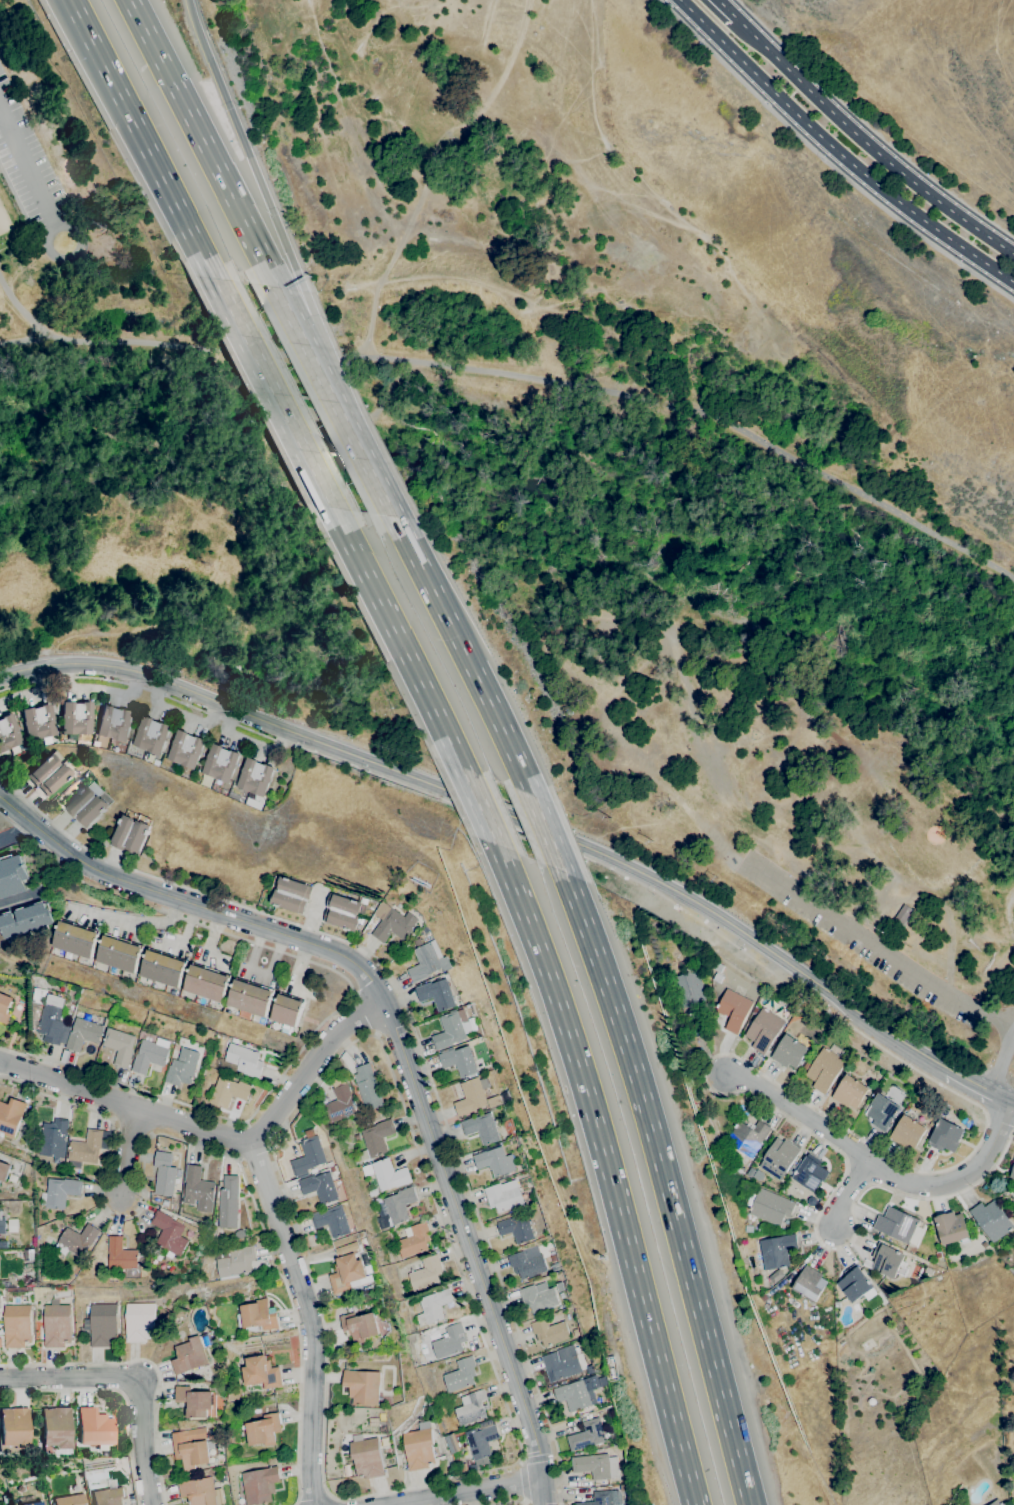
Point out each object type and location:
road: (729, 11)
road: (140, 139)
road: (204, 143)
road: (243, 145)
road: (871, 146)
road: (838, 152)
parking lot: (36, 161)
road: (826, 161)
road: (12, 164)
road: (28, 166)
road: (70, 258)
road: (16, 298)
road: (295, 322)
road: (311, 322)
road: (529, 376)
road: (271, 392)
road: (353, 436)
park: (140, 442)
river: (545, 496)
road: (395, 637)
road: (465, 654)
building: (77, 719)
building: (114, 723)
building: (39, 724)
building: (9, 735)
building: (150, 735)
building: (124, 746)
building: (185, 749)
building: (219, 763)
building: (48, 775)
building: (254, 776)
road: (477, 805)
building: (86, 806)
road: (493, 810)
road: (547, 833)
road: (17, 835)
building: (130, 835)
building: (12, 875)
building: (291, 895)
building: (364, 900)
road: (21, 901)
building: (342, 911)
building: (903, 913)
building: (25, 920)
building: (393, 923)
building: (75, 938)
road: (876, 946)
building: (118, 953)
building: (426, 961)
building: (685, 965)
building: (718, 967)
building: (162, 968)
building: (717, 977)
building: (206, 982)
building: (688, 991)
building: (437, 994)
building: (250, 997)
road: (345, 1002)
building: (5, 1007)
building: (732, 1008)
building: (754, 1010)
building: (287, 1012)
road: (363, 1015)
building: (51, 1017)
road: (411, 1028)
building: (451, 1029)
building: (764, 1030)
building: (83, 1034)
road: (397, 1042)
building: (120, 1046)
building: (789, 1052)
building: (151, 1055)
building: (244, 1059)
road: (999, 1059)
building: (460, 1061)
road: (904, 1061)
building: (183, 1067)
building: (824, 1070)
road: (976, 1085)
building: (368, 1087)
building: (228, 1092)
building: (849, 1092)
building: (474, 1096)
building: (501, 1099)
road: (1012, 1100)
building: (339, 1104)
building: (883, 1112)
building: (316, 1115)
building: (10, 1116)
building: (931, 1124)
building: (483, 1128)
building: (907, 1132)
road: (219, 1134)
building: (945, 1135)
building: (355, 1137)
building: (53, 1138)
building: (375, 1139)
building: (745, 1140)
road: (202, 1147)
building: (87, 1148)
road: (128, 1151)
building: (308, 1156)
building: (779, 1157)
building: (495, 1160)
building: (1013, 1161)
road: (879, 1165)
building: (25, 1168)
building: (333, 1168)
building: (738, 1170)
building: (4, 1171)
road: (607, 1171)
building: (750, 1172)
building: (810, 1173)
building: (1012, 1173)
building: (164, 1174)
building: (389, 1175)
road: (664, 1185)
building: (320, 1187)
building: (198, 1189)
road: (846, 1191)
building: (60, 1192)
building: (1005, 1192)
building: (504, 1198)
building: (228, 1202)
building: (399, 1205)
building: (769, 1206)
building: (991, 1220)
building: (332, 1221)
building: (2, 1224)
building: (898, 1226)
building: (951, 1227)
building: (516, 1228)
building: (748, 1228)
building: (172, 1232)
building: (76, 1240)
building: (413, 1240)
building: (3, 1243)
building: (777, 1250)
building: (122, 1254)
building: (937, 1255)
building: (395, 1256)
building: (236, 1261)
building: (886, 1261)
building: (527, 1263)
building: (556, 1266)
building: (928, 1271)
building: (347, 1273)
building: (426, 1273)
building: (776, 1276)
building: (5, 1283)
building: (809, 1283)
building: (854, 1283)
building: (560, 1287)
building: (60, 1294)
building: (538, 1297)
building: (836, 1304)
building: (432, 1306)
building: (257, 1316)
building: (139, 1321)
road: (309, 1321)
building: (103, 1324)
building: (57, 1325)
building: (17, 1326)
building: (359, 1326)
building: (550, 1332)
building: (576, 1332)
building: (449, 1341)
building: (363, 1345)
building: (189, 1356)
road: (147, 1361)
building: (562, 1362)
building: (260, 1372)
building: (460, 1375)
road: (132, 1378)
building: (362, 1387)
road: (117, 1392)
building: (573, 1394)
building: (195, 1401)
building: (471, 1407)
building: (14, 1429)
building: (56, 1429)
building: (94, 1429)
building: (263, 1430)
road: (514, 1432)
building: (590, 1434)
building: (481, 1441)
building: (191, 1446)
building: (419, 1447)
building: (365, 1457)
road: (537, 1461)
building: (596, 1466)
building: (223, 1477)
road: (520, 1481)
building: (259, 1484)
building: (201, 1492)
road: (464, 1492)
road: (313, 1493)
building: (109, 1496)
building: (599, 1498)
building: (5, 1499)
building: (71, 1500)
road: (507, 1501)
road: (338, 1502)
building: (996, 1502)
building: (35, 1503)

